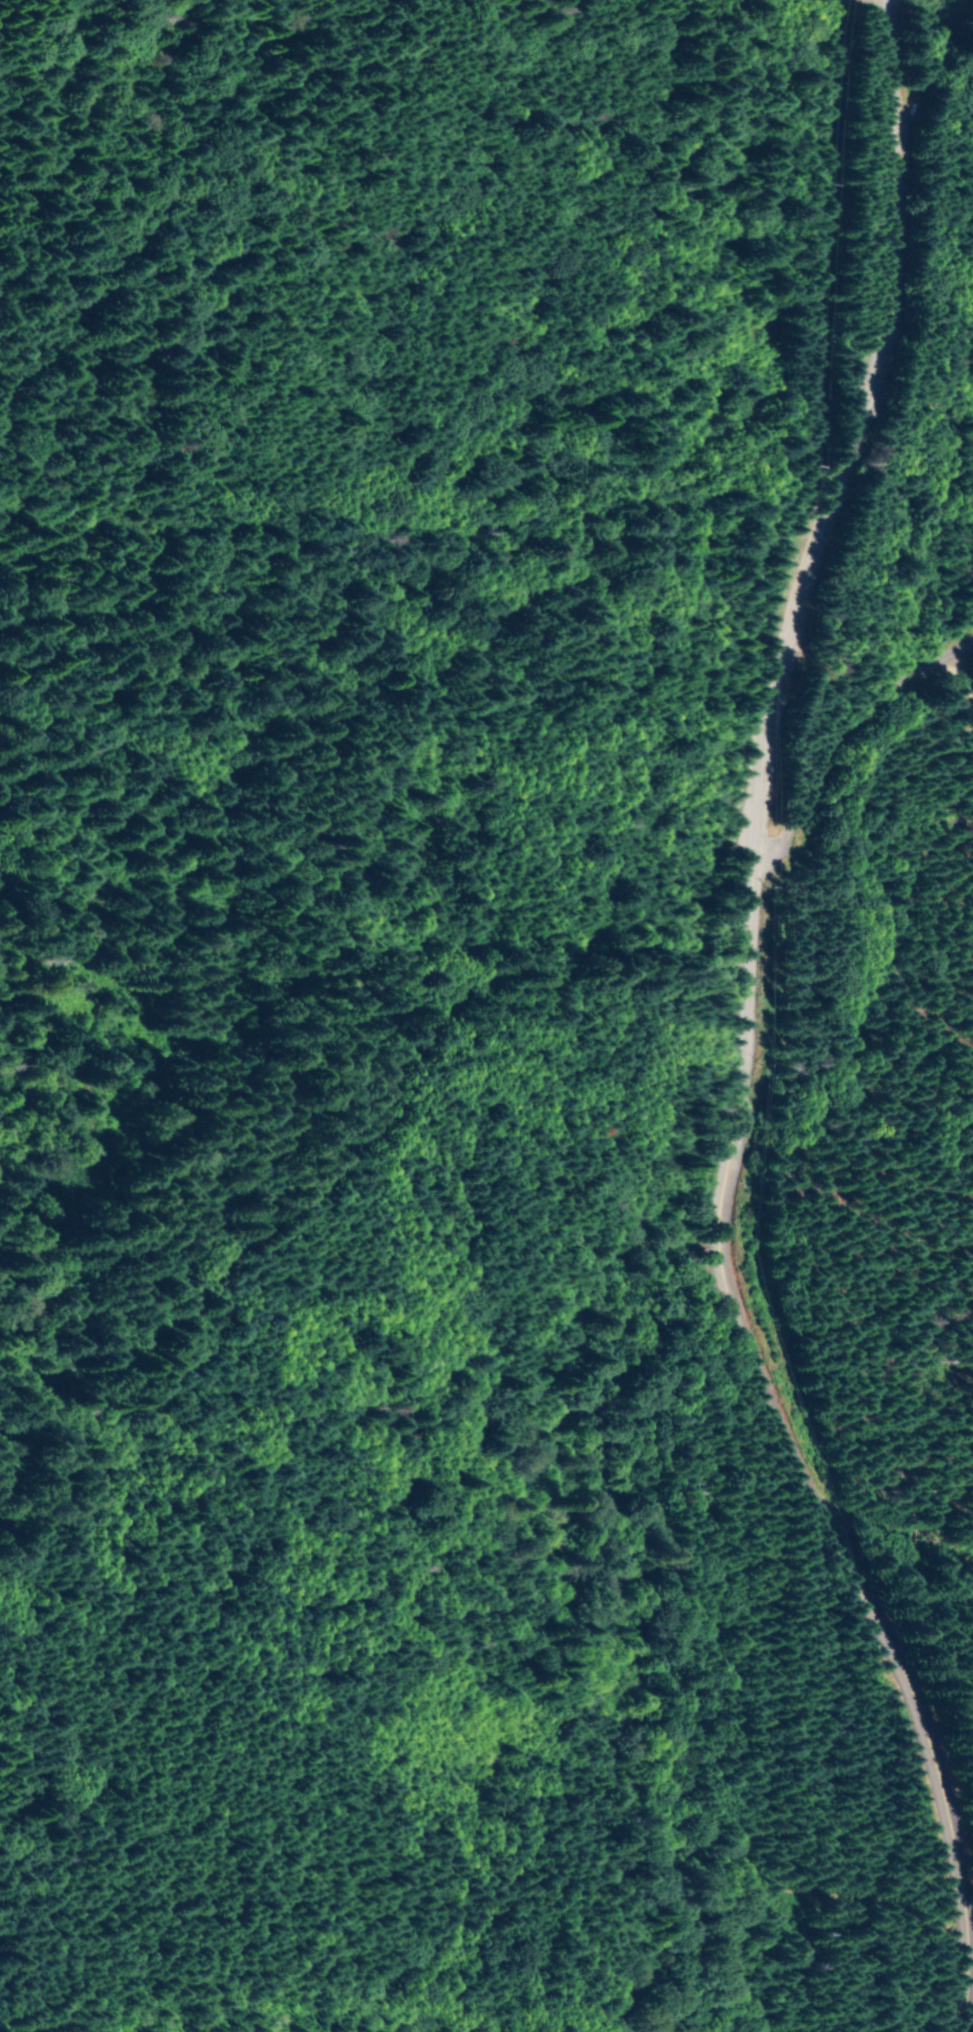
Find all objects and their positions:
road: (436, 505)
road: (894, 765)
road: (760, 979)
road: (934, 1565)
road: (529, 1650)

